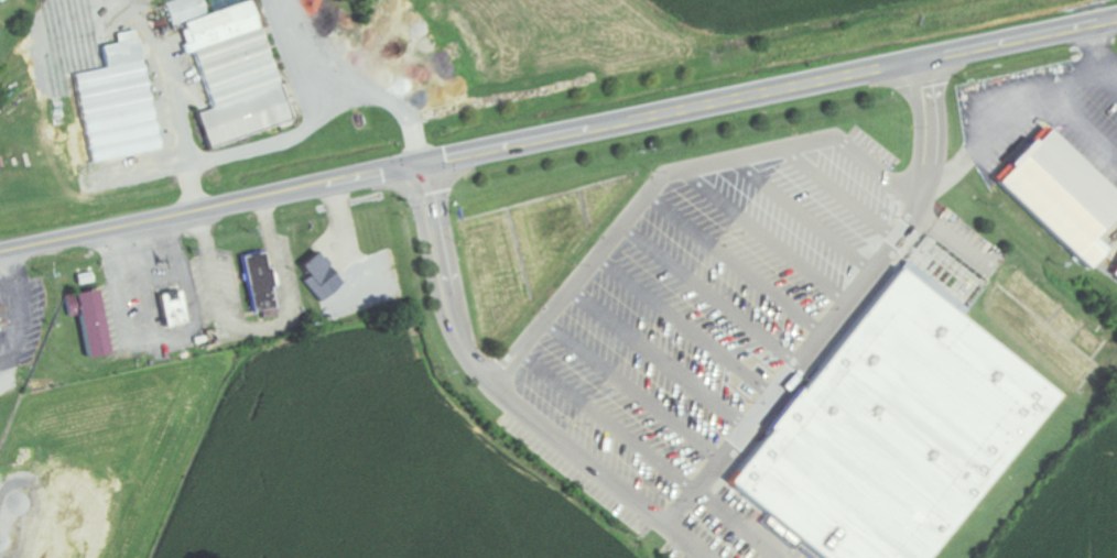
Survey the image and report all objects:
building: (237, 74)
building: (115, 81)
road: (558, 135)
road: (713, 163)
road: (839, 195)
building: (1060, 196)
road: (801, 216)
road: (762, 237)
road: (733, 264)
building: (1115, 274)
building: (322, 277)
building: (258, 283)
road: (707, 295)
building: (173, 309)
road: (841, 309)
building: (1, 314)
building: (88, 321)
road: (683, 326)
road: (658, 358)
road: (631, 390)
road: (507, 397)
building: (896, 419)
road: (606, 422)
road: (736, 524)

